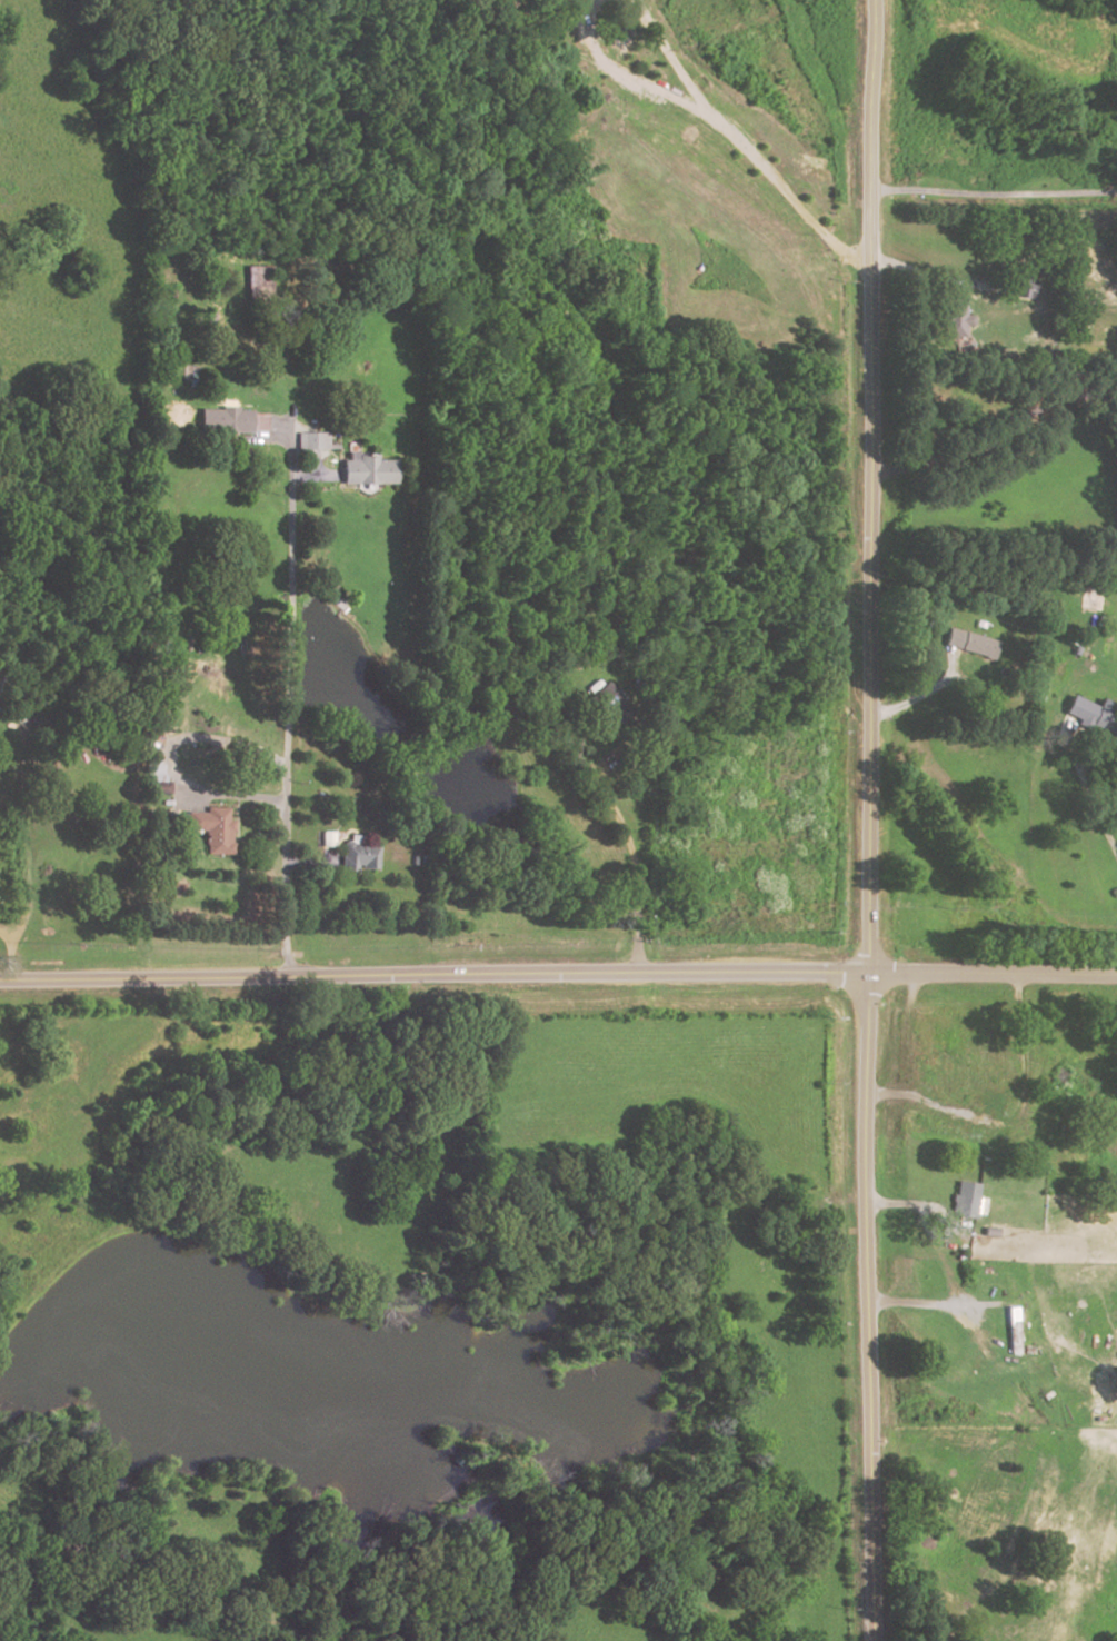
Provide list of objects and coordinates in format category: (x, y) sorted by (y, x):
road: (670, 57)
road: (628, 71)
road: (787, 193)
road: (993, 195)
road: (931, 277)
building: (258, 280)
building: (1018, 287)
building: (949, 318)
building: (228, 420)
road: (994, 436)
building: (312, 439)
building: (368, 468)
building: (1094, 601)
building: (967, 644)
building: (605, 696)
road: (286, 698)
road: (914, 700)
building: (1090, 716)
road: (168, 755)
road: (1071, 756)
road: (869, 820)
building: (215, 828)
building: (326, 847)
building: (357, 856)
road: (640, 866)
road: (8, 953)
road: (994, 973)
road: (435, 974)
road: (897, 1095)
building: (990, 1102)
road: (971, 1126)
building: (965, 1199)
road: (898, 1205)
road: (921, 1304)
building: (1011, 1331)

